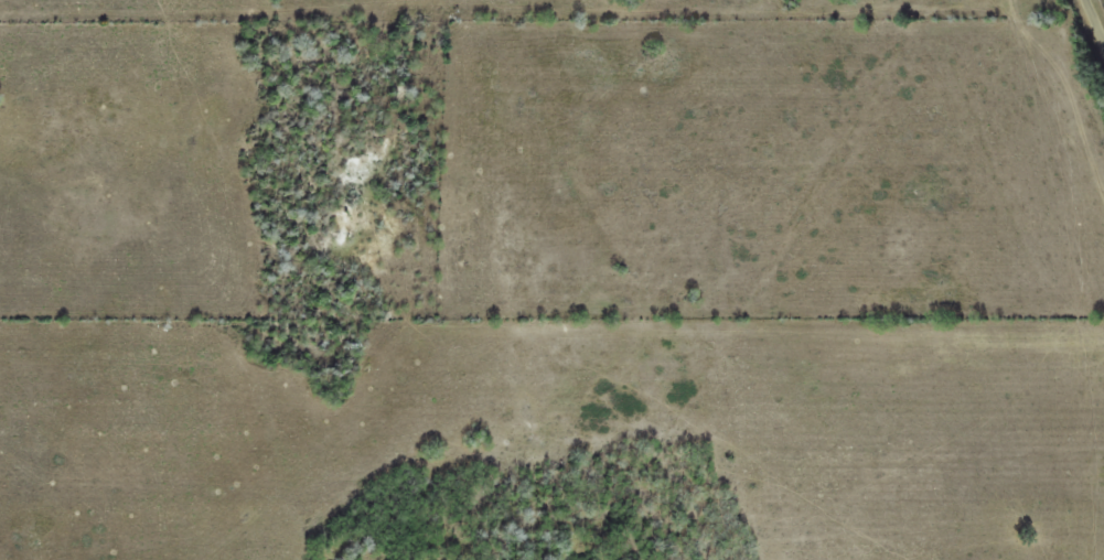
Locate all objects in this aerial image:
road: (1098, 11)

